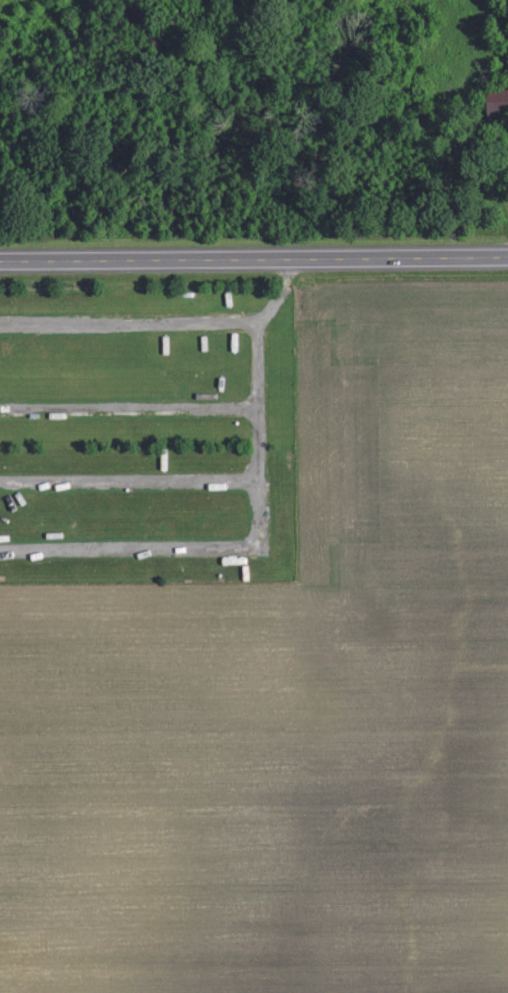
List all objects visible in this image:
building: (498, 101)
road: (254, 258)

